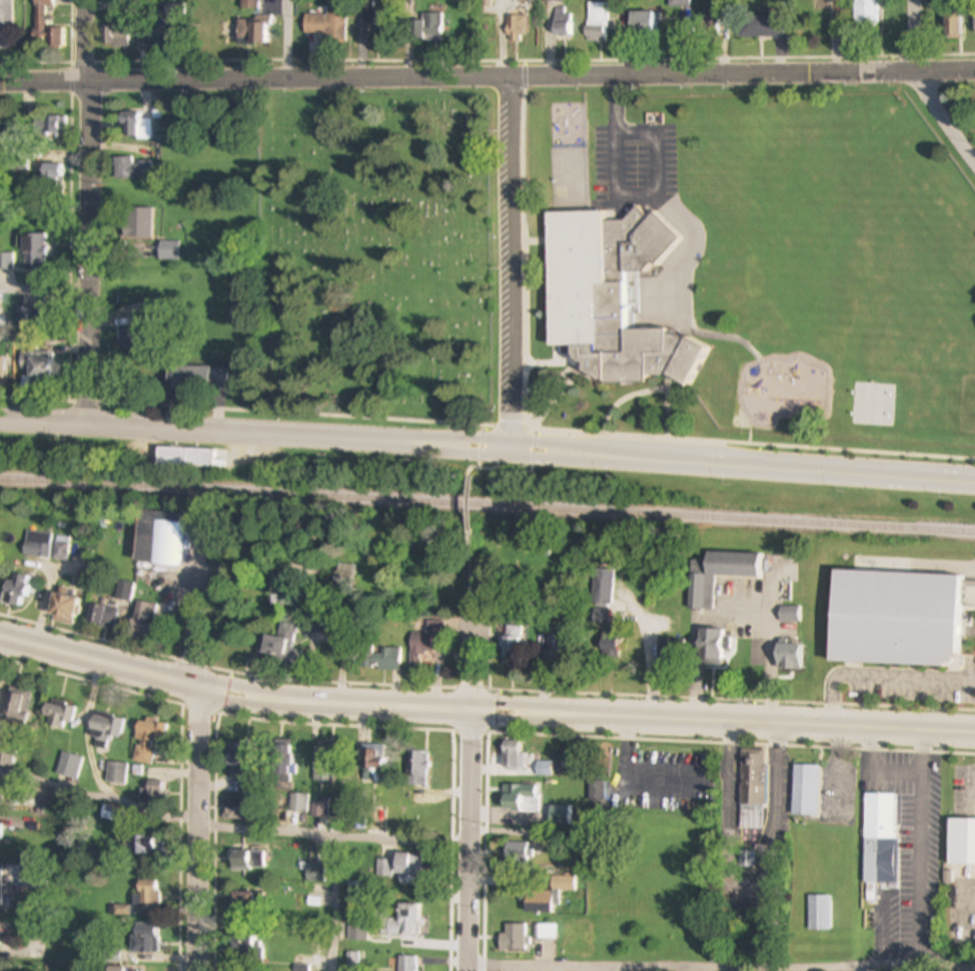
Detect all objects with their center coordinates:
building: (550, 0)
building: (249, 5)
building: (677, 5)
building: (865, 14)
building: (974, 19)
building: (560, 22)
building: (641, 22)
building: (596, 23)
building: (324, 24)
building: (708, 24)
building: (5, 25)
building: (45, 25)
building: (953, 26)
building: (760, 27)
building: (428, 28)
building: (249, 32)
road: (913, 34)
building: (157, 36)
building: (114, 38)
road: (287, 39)
road: (519, 58)
road: (61, 61)
road: (487, 77)
road: (47, 89)
road: (944, 114)
building: (48, 126)
building: (135, 127)
railway: (848, 158)
building: (132, 169)
building: (52, 177)
road: (87, 213)
building: (133, 222)
road: (64, 245)
building: (168, 251)
building: (32, 253)
park: (382, 257)
building: (5, 262)
road: (512, 263)
road: (43, 293)
building: (611, 298)
building: (129, 338)
building: (37, 367)
building: (1, 368)
building: (197, 378)
road: (487, 427)
road: (487, 448)
road: (469, 451)
building: (185, 458)
road: (468, 506)
railway: (487, 506)
building: (158, 538)
building: (37, 545)
building: (65, 548)
building: (512, 551)
road: (470, 553)
building: (718, 576)
building: (601, 590)
building: (14, 592)
building: (65, 607)
building: (101, 617)
road: (730, 618)
building: (145, 619)
building: (893, 620)
road: (186, 628)
road: (213, 628)
building: (317, 630)
road: (476, 640)
building: (278, 643)
building: (426, 643)
building: (511, 645)
building: (710, 648)
road: (646, 656)
building: (388, 657)
building: (787, 658)
road: (879, 677)
road: (92, 681)
road: (483, 689)
building: (19, 706)
road: (484, 710)
building: (60, 715)
building: (105, 731)
building: (148, 744)
building: (510, 755)
building: (237, 762)
building: (282, 762)
building: (370, 763)
building: (322, 766)
building: (68, 767)
building: (417, 770)
road: (896, 770)
building: (116, 774)
road: (629, 784)
building: (752, 790)
building: (805, 791)
building: (520, 798)
building: (0, 802)
building: (297, 804)
building: (319, 808)
building: (236, 812)
building: (879, 818)
road: (232, 825)
road: (211, 826)
road: (197, 830)
building: (0, 835)
road: (754, 836)
road: (183, 838)
road: (470, 840)
building: (961, 843)
building: (141, 847)
road: (918, 849)
building: (245, 861)
building: (747, 861)
building: (878, 861)
building: (400, 869)
building: (0, 889)
building: (147, 896)
building: (548, 896)
building: (243, 902)
road: (335, 905)
building: (820, 914)
building: (401, 923)
building: (357, 930)
building: (546, 932)
building: (511, 938)
building: (144, 939)
building: (243, 946)
building: (353, 962)
building: (408, 964)
building: (301, 969)
road: (721, 970)

